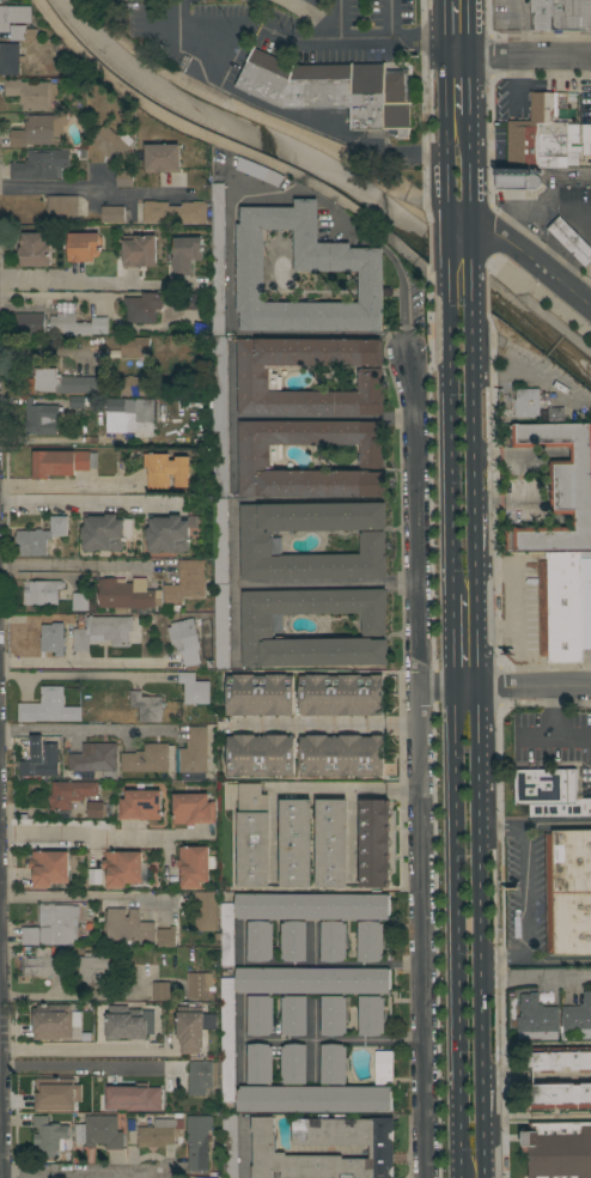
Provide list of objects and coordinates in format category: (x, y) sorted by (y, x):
building: (0, 1)
building: (560, 14)
building: (13, 16)
road: (389, 19)
road: (245, 26)
road: (465, 28)
road: (520, 28)
building: (18, 32)
road: (372, 40)
road: (517, 56)
building: (10, 59)
building: (333, 90)
road: (467, 90)
building: (31, 93)
road: (443, 119)
road: (299, 122)
building: (39, 130)
building: (540, 136)
building: (585, 139)
building: (111, 144)
building: (163, 158)
building: (41, 165)
building: (260, 171)
building: (124, 178)
building: (514, 178)
road: (467, 192)
road: (95, 193)
building: (61, 207)
building: (175, 212)
building: (111, 214)
building: (571, 241)
building: (84, 247)
road: (523, 249)
building: (35, 250)
building: (139, 250)
building: (185, 254)
building: (217, 260)
building: (339, 260)
road: (445, 261)
road: (397, 272)
road: (469, 278)
road: (87, 283)
road: (230, 296)
building: (191, 302)
building: (142, 308)
building: (29, 323)
building: (77, 326)
building: (134, 346)
road: (37, 352)
building: (256, 375)
building: (62, 382)
building: (130, 385)
building: (78, 402)
building: (528, 402)
building: (129, 415)
road: (231, 415)
building: (556, 415)
building: (219, 417)
road: (324, 417)
building: (44, 418)
road: (447, 442)
building: (258, 460)
building: (60, 462)
building: (166, 470)
road: (66, 487)
building: (559, 487)
building: (102, 533)
building: (167, 534)
building: (38, 538)
building: (220, 541)
building: (261, 546)
road: (80, 571)
road: (233, 578)
building: (185, 582)
road: (325, 583)
building: (42, 593)
building: (126, 595)
building: (79, 602)
building: (565, 605)
building: (261, 623)
building: (221, 626)
building: (102, 633)
road: (474, 637)
building: (53, 638)
road: (450, 643)
building: (183, 644)
road: (84, 664)
road: (520, 685)
road: (435, 686)
building: (194, 688)
building: (260, 694)
building: (340, 694)
building: (146, 706)
building: (48, 708)
road: (325, 724)
road: (87, 733)
building: (194, 752)
building: (260, 754)
building: (341, 755)
building: (39, 758)
building: (96, 759)
building: (146, 759)
road: (420, 765)
road: (301, 789)
building: (549, 793)
building: (69, 795)
building: (140, 804)
building: (95, 809)
building: (193, 809)
road: (554, 822)
road: (502, 828)
road: (352, 832)
building: (252, 837)
road: (93, 838)
building: (295, 843)
building: (330, 843)
building: (373, 843)
building: (567, 861)
building: (357, 864)
building: (194, 866)
building: (49, 868)
building: (122, 868)
road: (525, 895)
road: (90, 898)
building: (311, 906)
building: (205, 911)
road: (455, 919)
building: (568, 923)
building: (53, 925)
building: (124, 927)
building: (226, 933)
building: (166, 937)
building: (260, 941)
building: (293, 941)
building: (333, 941)
building: (370, 941)
road: (502, 955)
road: (558, 958)
building: (43, 964)
road: (311, 964)
building: (93, 970)
road: (534, 979)
building: (312, 980)
building: (196, 985)
building: (163, 991)
road: (68, 994)
building: (258, 1015)
building: (292, 1015)
building: (370, 1015)
building: (333, 1016)
building: (579, 1018)
building: (536, 1019)
building: (53, 1021)
building: (128, 1022)
building: (193, 1027)
road: (238, 1038)
road: (330, 1039)
building: (227, 1040)
building: (560, 1059)
building: (257, 1064)
building: (293, 1064)
building: (333, 1064)
building: (383, 1068)
road: (89, 1070)
building: (199, 1076)
road: (480, 1079)
road: (535, 1079)
building: (112, 1080)
building: (44, 1088)
building: (67, 1092)
building: (560, 1095)
building: (138, 1099)
building: (312, 1099)
building: (67, 1105)
road: (0, 1123)
building: (99, 1133)
building: (160, 1133)
building: (49, 1136)
building: (197, 1141)
building: (229, 1146)
building: (380, 1149)
building: (558, 1149)
road: (244, 1150)
road: (459, 1166)

